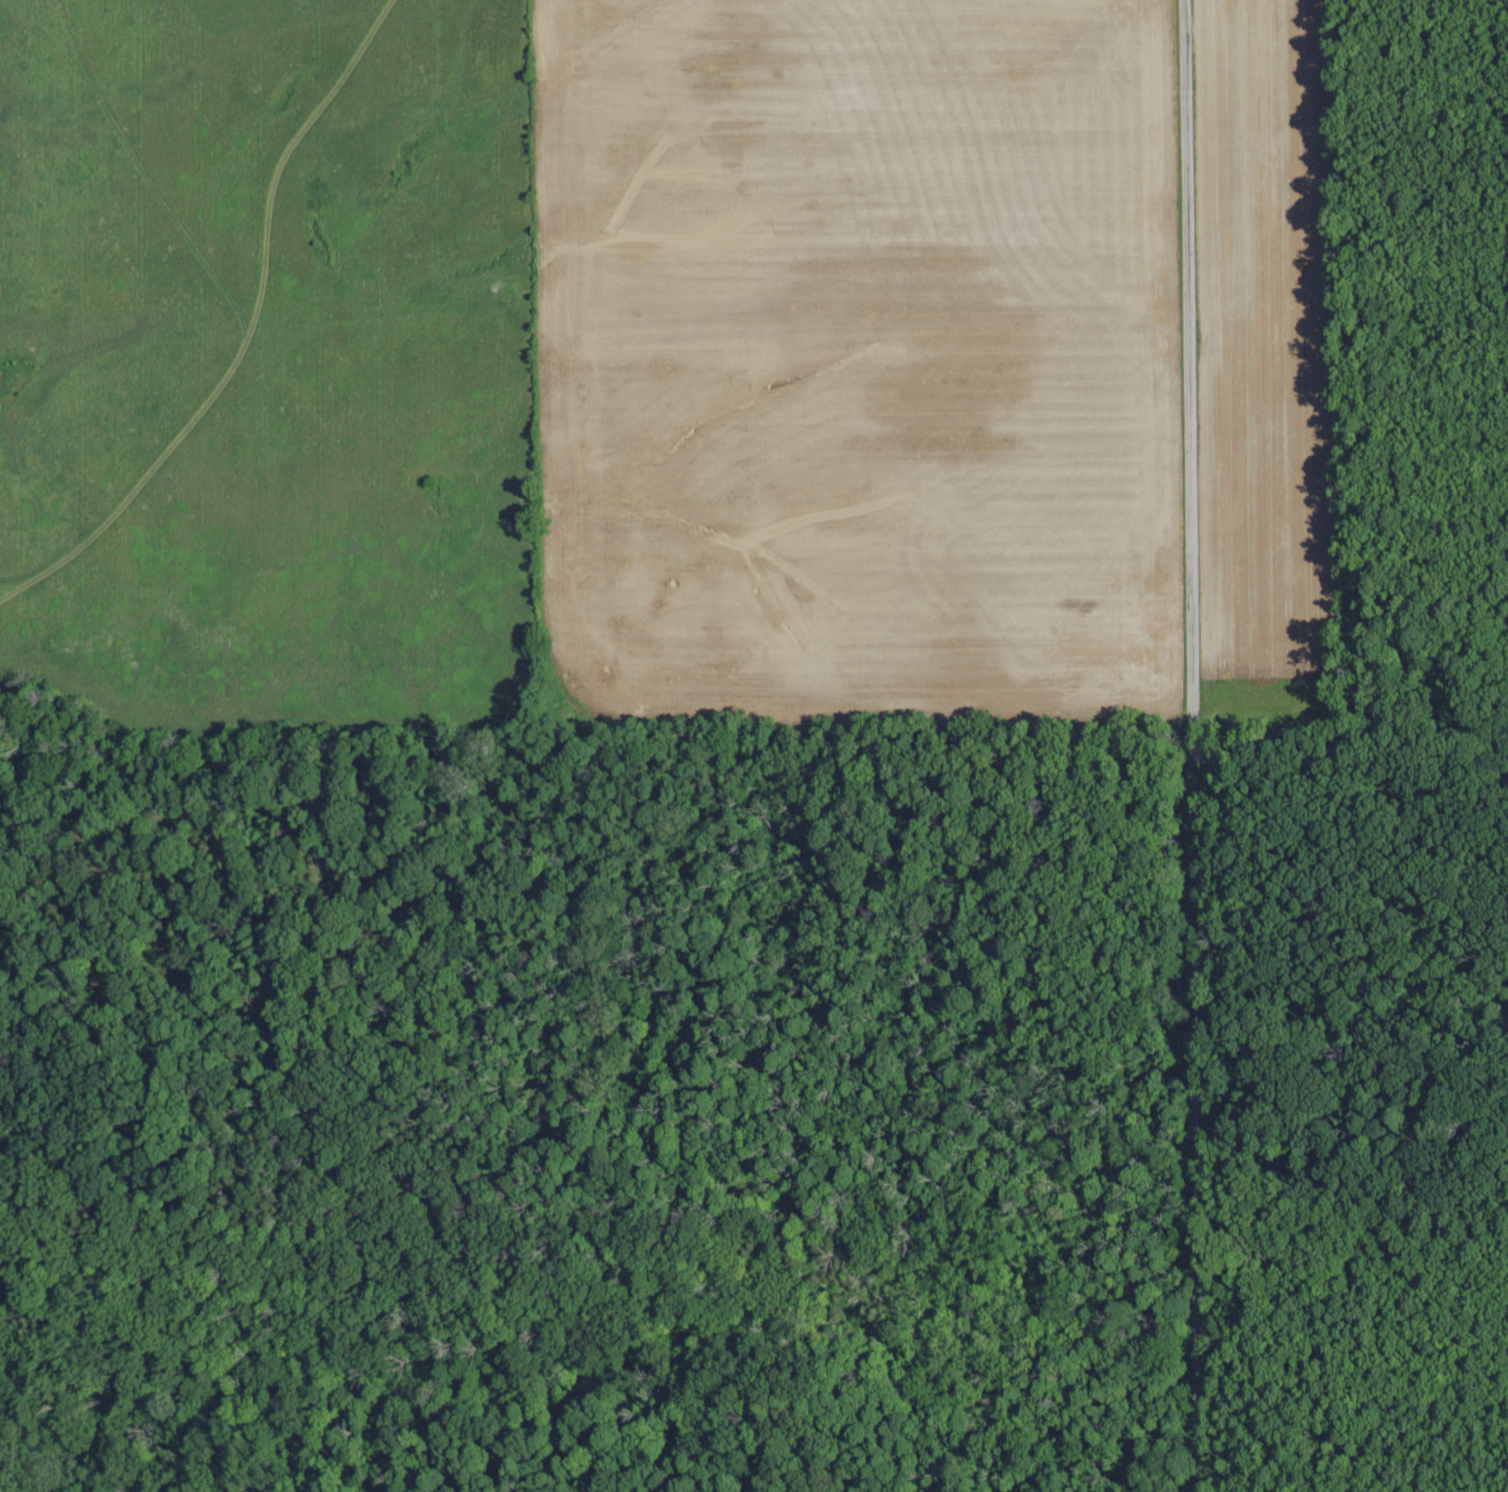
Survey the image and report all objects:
road: (1188, 746)

